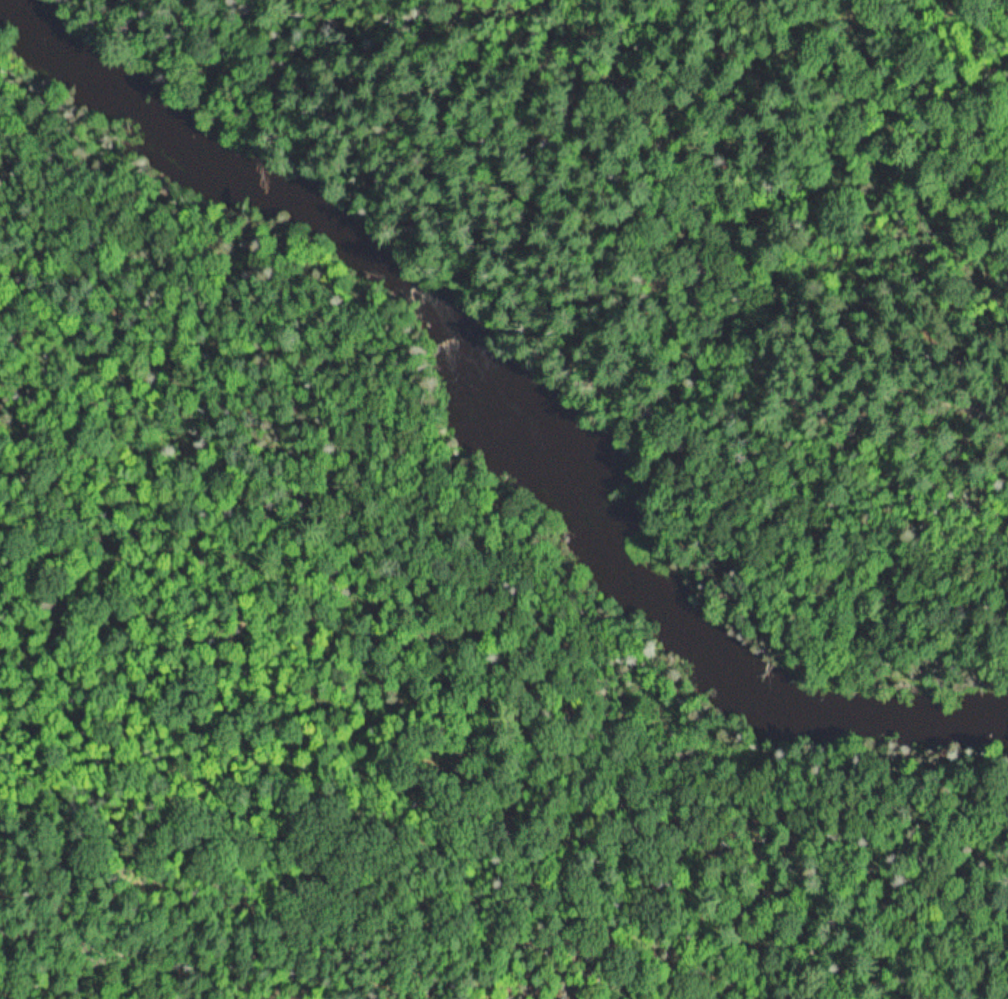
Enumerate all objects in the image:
river: (504, 412)

